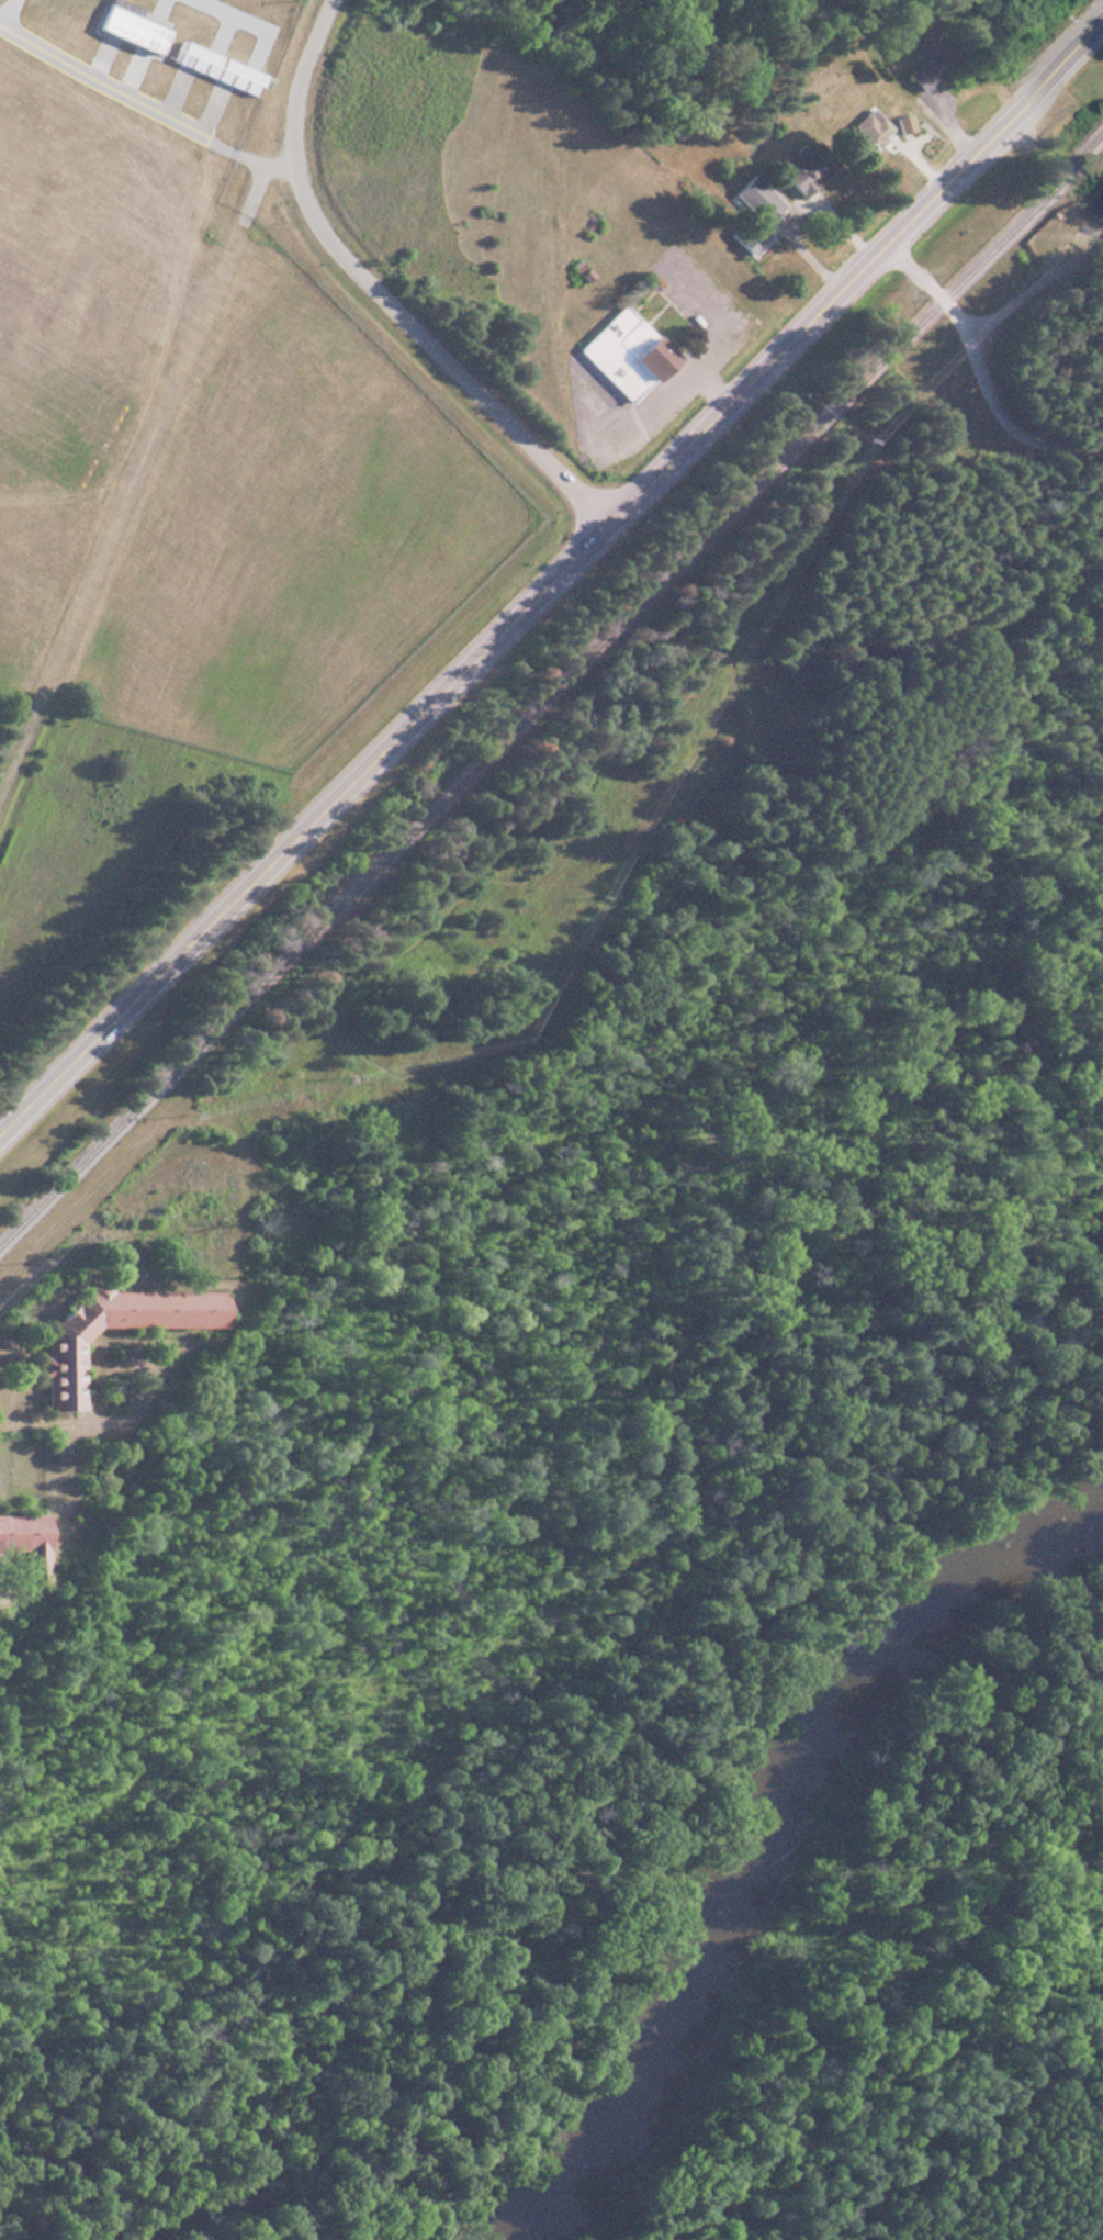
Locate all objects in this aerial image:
building: (127, 26)
building: (930, 59)
building: (215, 69)
airport taxiway: (101, 83)
building: (866, 132)
building: (804, 166)
building: (753, 213)
road: (1028, 287)
road: (385, 293)
building: (622, 354)
road: (981, 370)
park: (976, 389)
road: (559, 584)
railway: (552, 688)
building: (63, 1348)
building: (23, 1544)
river: (778, 1843)
park: (900, 1959)

